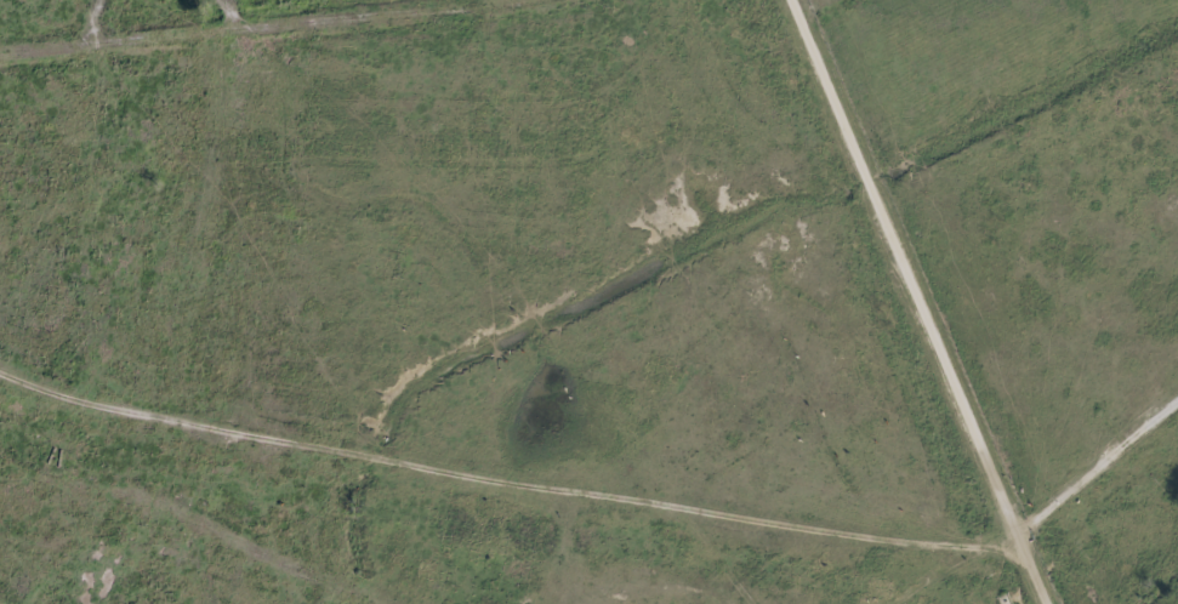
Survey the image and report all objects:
road: (911, 304)
road: (1098, 467)

